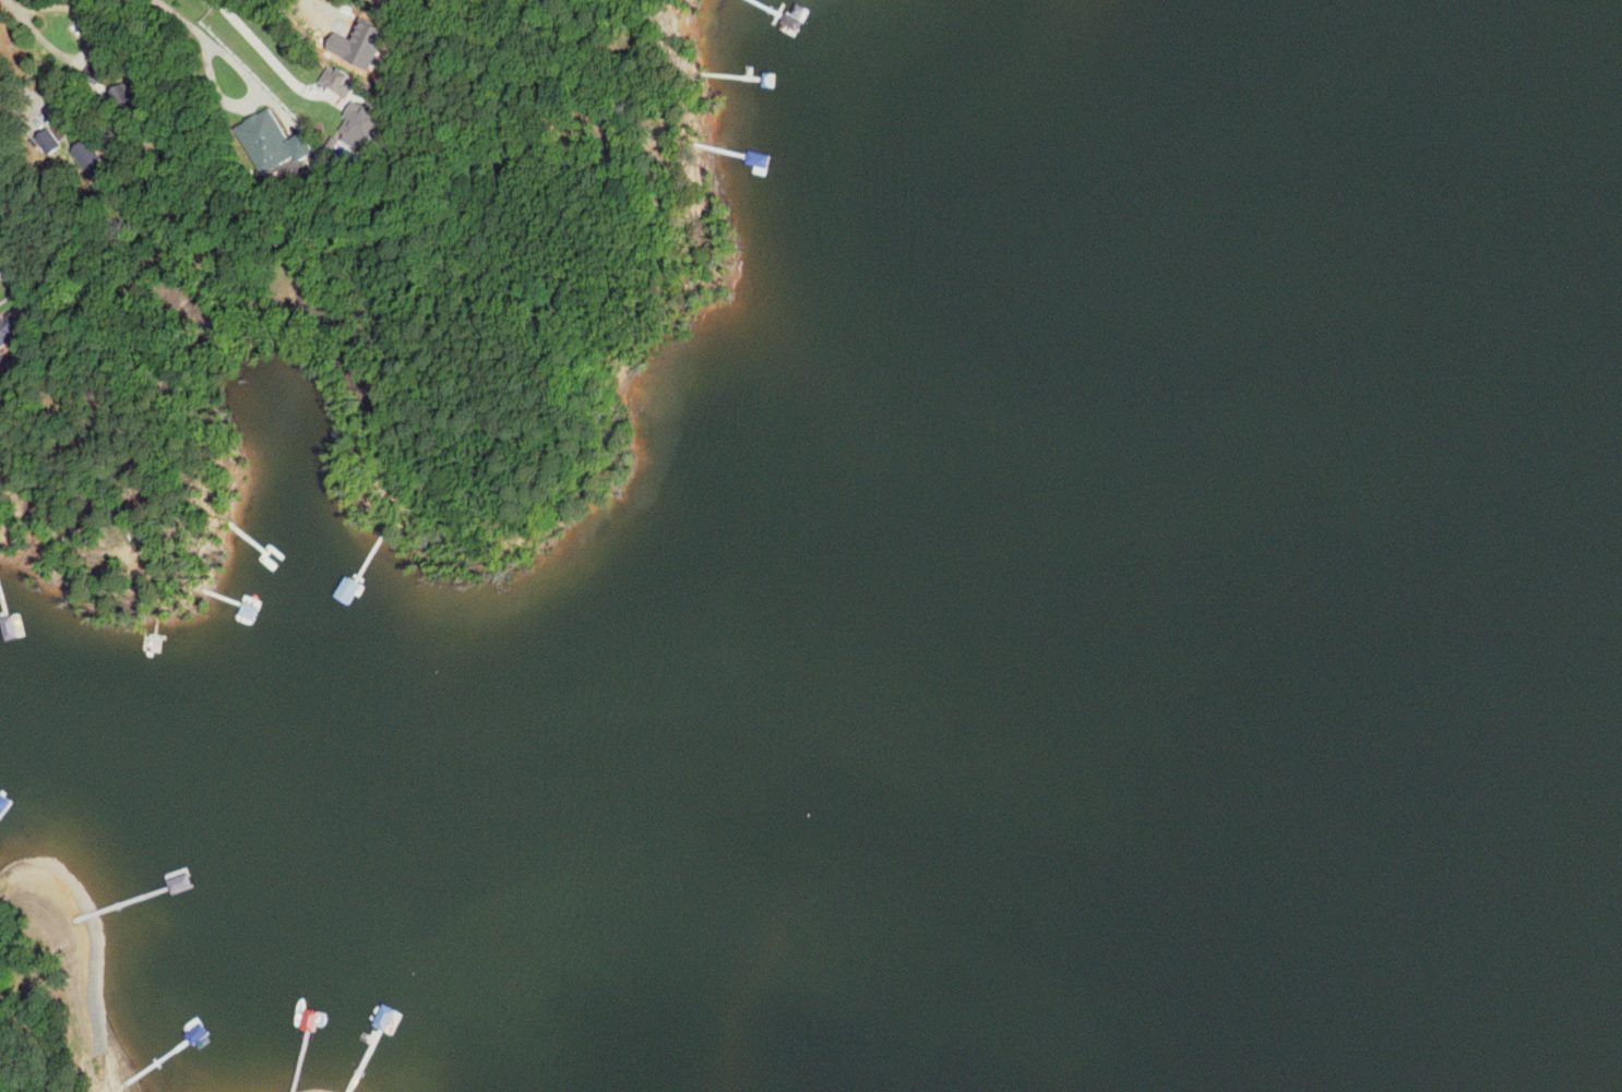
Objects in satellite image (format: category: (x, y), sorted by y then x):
road: (28, 12)
road: (183, 17)
road: (20, 82)
building: (337, 82)
road: (249, 100)
building: (116, 108)
building: (358, 124)
building: (46, 140)
building: (270, 141)
building: (788, 149)
building: (87, 157)
road: (11, 277)
building: (12, 322)
building: (1, 358)
building: (255, 584)
building: (339, 584)
building: (0, 603)

